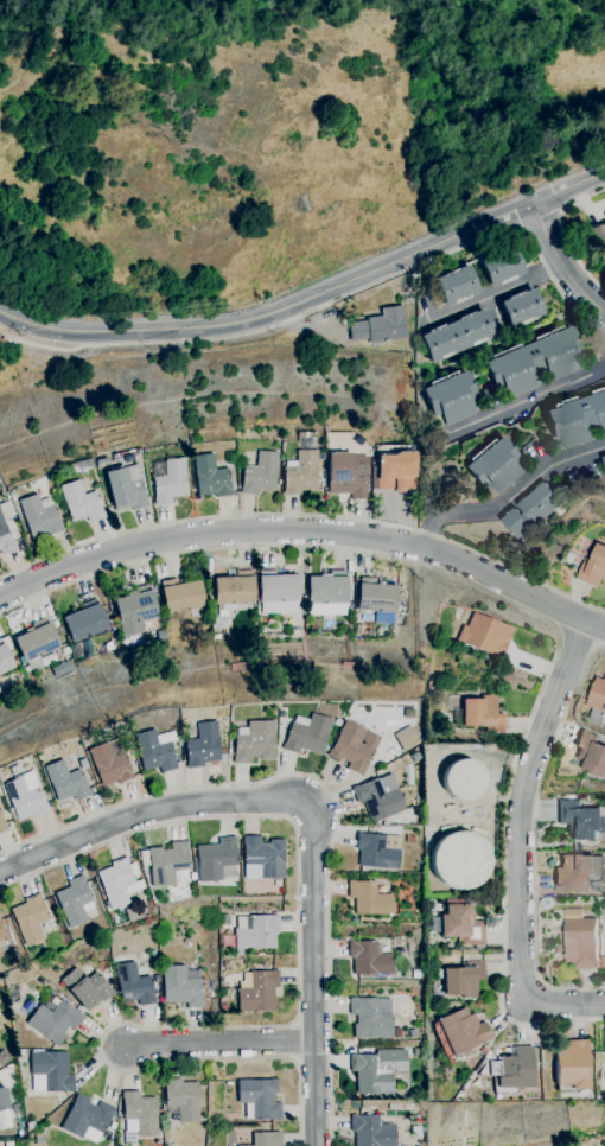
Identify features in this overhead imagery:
river: (180, 6)
park: (268, 136)
road: (541, 223)
road: (563, 233)
building: (599, 240)
road: (560, 262)
building: (501, 266)
building: (456, 285)
road: (497, 292)
road: (311, 298)
road: (330, 303)
building: (522, 307)
building: (380, 327)
building: (458, 335)
building: (535, 361)
building: (451, 396)
road: (528, 401)
building: (577, 419)
building: (311, 435)
building: (604, 457)
building: (101, 461)
building: (495, 465)
building: (394, 471)
building: (260, 473)
building: (301, 473)
building: (348, 475)
building: (211, 477)
building: (170, 480)
building: (126, 488)
road: (507, 496)
building: (12, 497)
building: (81, 502)
building: (531, 509)
road: (306, 515)
building: (40, 516)
road: (294, 531)
building: (5, 537)
building: (571, 555)
building: (594, 567)
building: (141, 588)
building: (327, 588)
building: (234, 592)
building: (278, 592)
building: (180, 596)
building: (377, 599)
road: (520, 607)
building: (134, 612)
building: (84, 623)
road: (594, 623)
building: (319, 634)
building: (216, 637)
building: (484, 637)
road: (577, 643)
building: (37, 644)
building: (5, 655)
building: (429, 686)
building: (597, 700)
building: (278, 714)
building: (482, 714)
building: (335, 722)
building: (278, 731)
building: (306, 734)
building: (405, 739)
building: (253, 741)
building: (178, 743)
building: (202, 745)
building: (350, 749)
building: (153, 752)
building: (591, 753)
building: (82, 764)
building: (109, 765)
building: (11, 770)
building: (461, 779)
building: (65, 782)
road: (331, 795)
building: (24, 797)
building: (378, 797)
building: (450, 807)
road: (148, 811)
building: (418, 811)
building: (465, 814)
building: (581, 820)
building: (1, 826)
road: (534, 836)
road: (518, 843)
building: (377, 851)
building: (215, 859)
building: (262, 859)
building: (459, 860)
building: (167, 862)
building: (579, 872)
building: (119, 881)
building: (369, 898)
building: (74, 902)
building: (547, 902)
building: (30, 918)
building: (460, 925)
building: (2, 931)
building: (255, 932)
building: (579, 940)
building: (154, 954)
building: (0, 955)
building: (369, 960)
building: (418, 973)
road: (313, 974)
building: (437, 975)
building: (463, 980)
building: (134, 985)
building: (181, 986)
building: (87, 988)
building: (256, 991)
building: (28, 1006)
building: (222, 1007)
road: (294, 1019)
building: (368, 1019)
building: (53, 1021)
building: (459, 1031)
building: (412, 1033)
road: (219, 1043)
building: (483, 1050)
building: (4, 1058)
building: (572, 1063)
building: (514, 1069)
building: (377, 1070)
building: (50, 1071)
building: (259, 1099)
building: (180, 1100)
building: (4, 1107)
building: (139, 1114)
building: (87, 1119)
building: (30, 1126)
building: (112, 1126)
building: (370, 1132)
building: (267, 1139)
building: (39, 1140)

